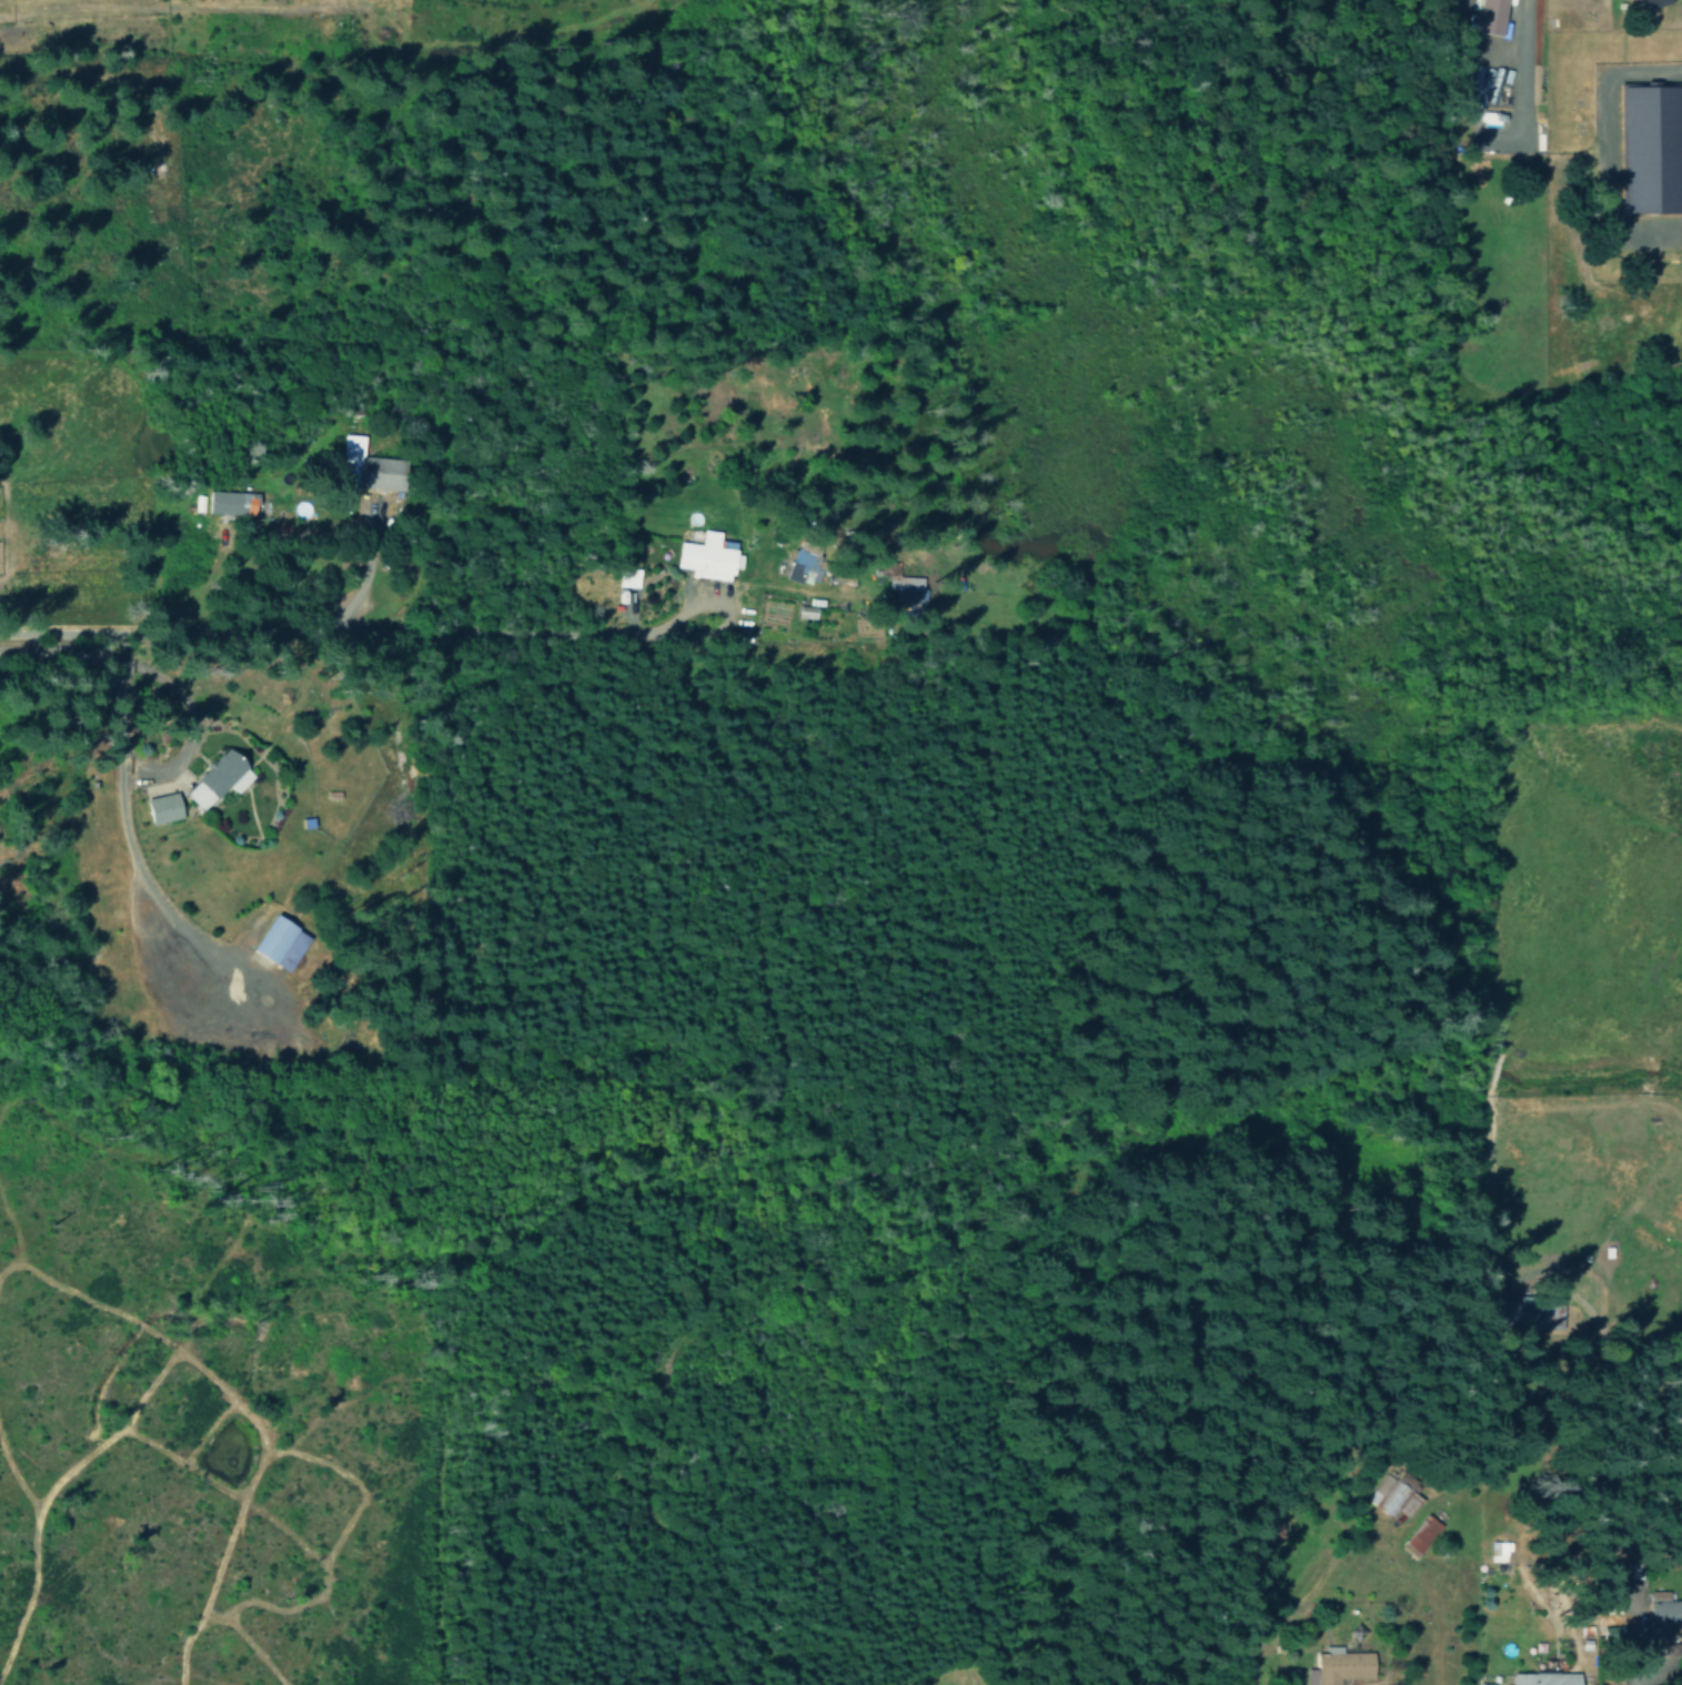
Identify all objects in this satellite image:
building: (1648, 3)
building: (1485, 17)
building: (1483, 85)
building: (1646, 149)
building: (229, 502)
building: (705, 556)
building: (794, 567)
building: (626, 577)
building: (905, 587)
building: (804, 612)
road: (421, 630)
building: (219, 776)
building: (168, 806)
building: (275, 942)
building: (1545, 1311)
building: (1397, 1500)
building: (1419, 1535)
building: (1663, 1617)
building: (1616, 1633)
building: (1340, 1666)
building: (1543, 1678)
building: (1484, 1683)

